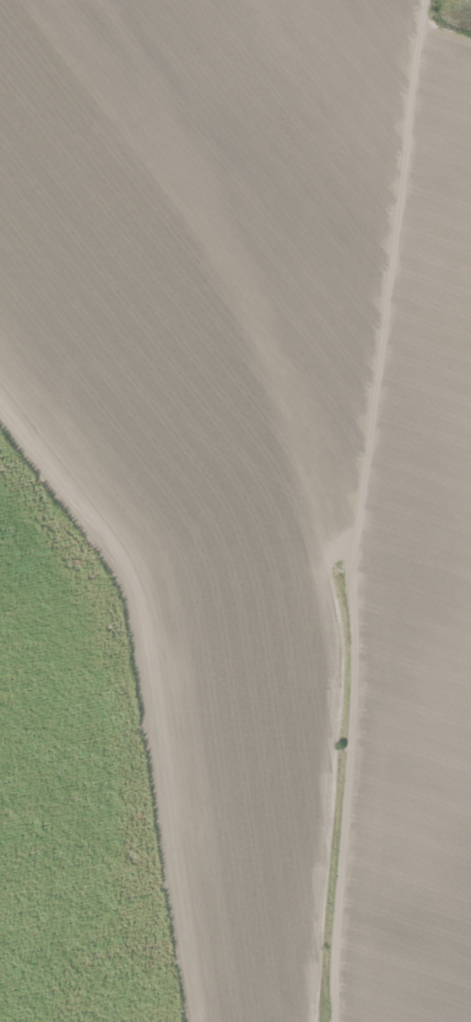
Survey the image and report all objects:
road: (360, 509)
road: (154, 687)

